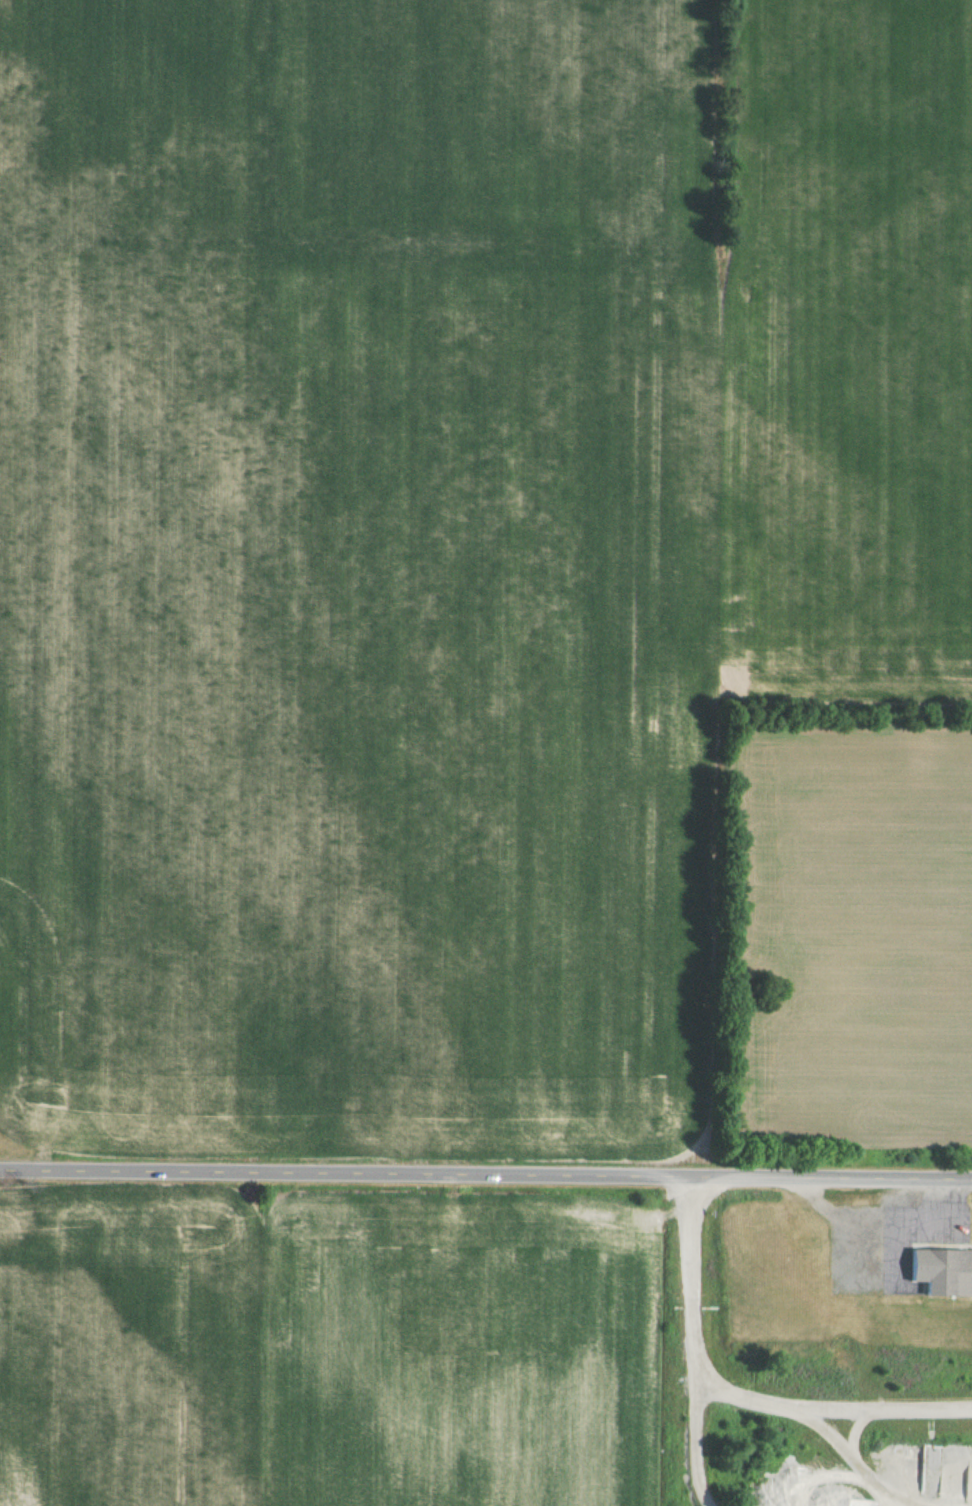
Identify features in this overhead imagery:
road: (486, 1182)
road: (874, 1223)
road: (875, 1253)
building: (940, 1275)
road: (682, 1333)
road: (883, 1406)
road: (845, 1425)
road: (842, 1454)

